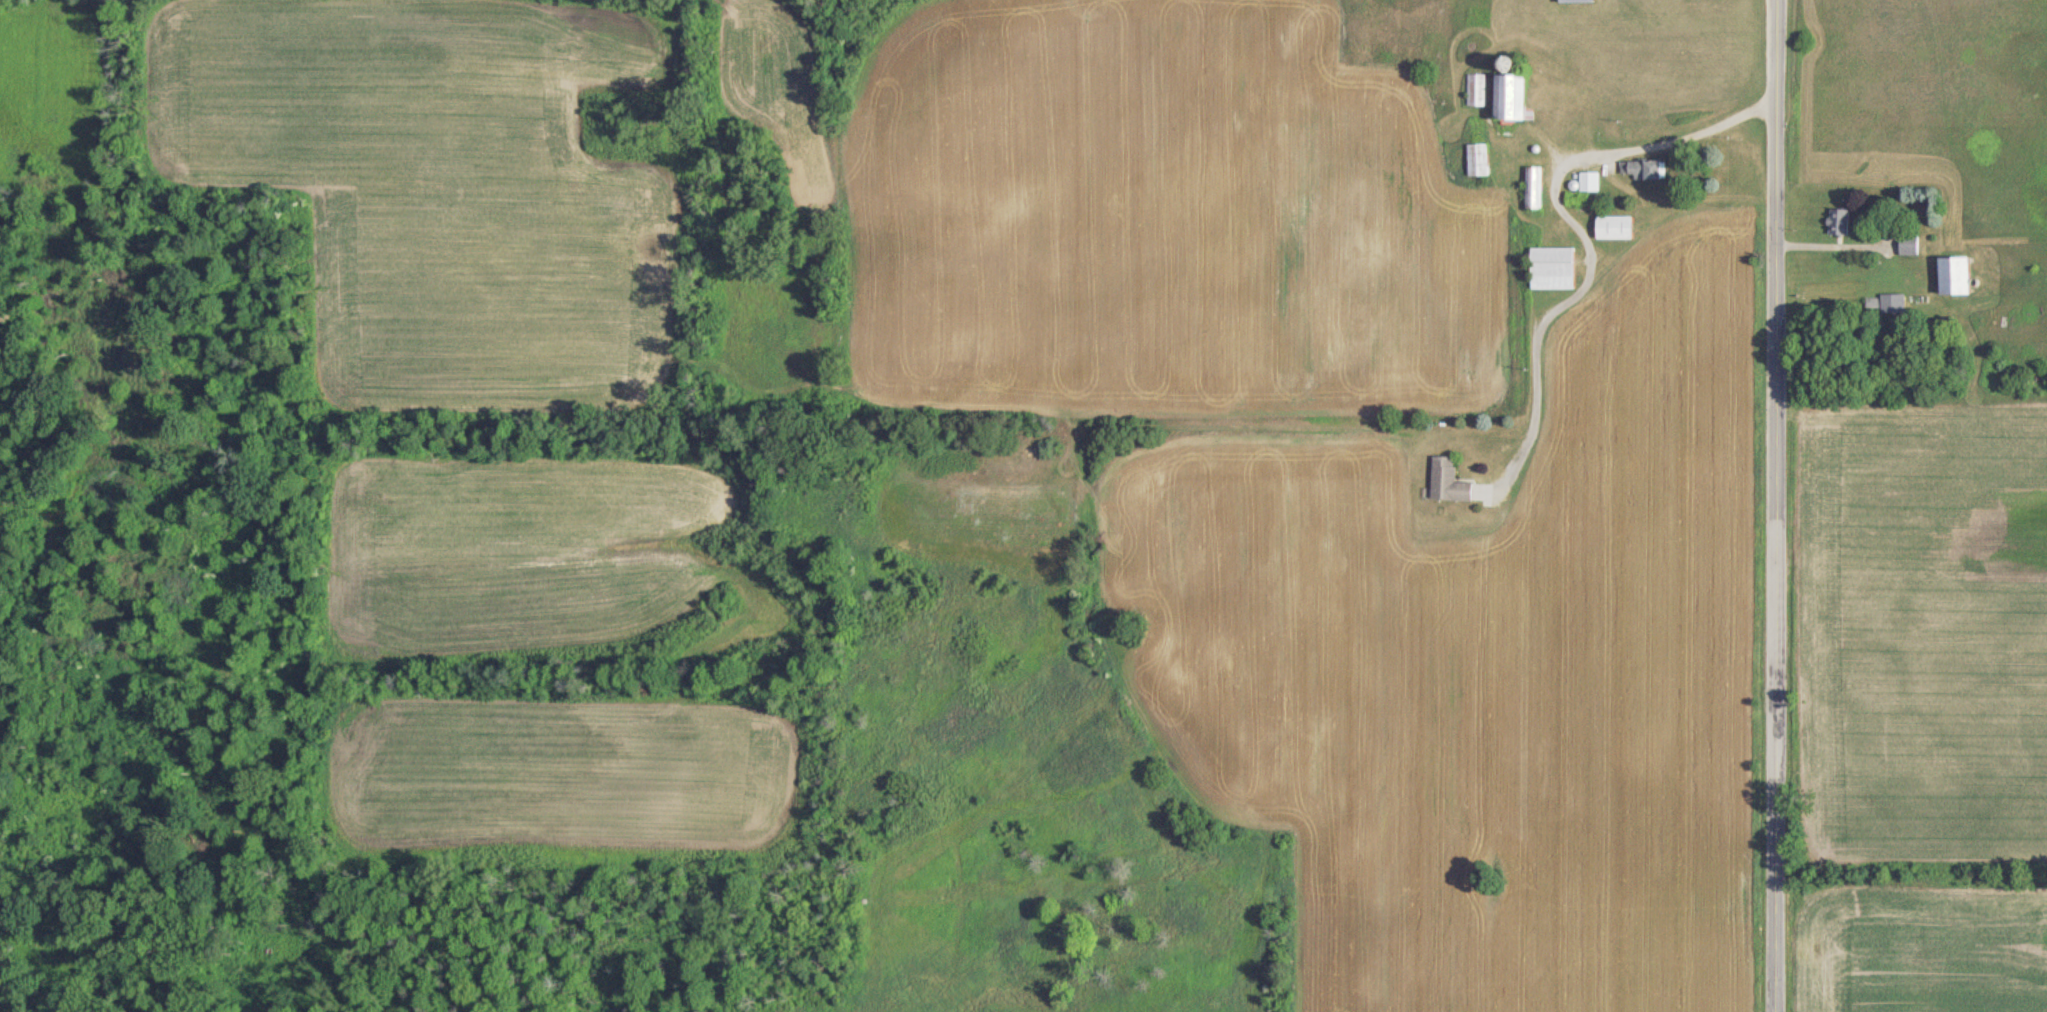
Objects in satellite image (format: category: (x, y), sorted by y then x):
building: (1574, 1)
building: (1477, 89)
building: (1508, 96)
building: (1477, 159)
building: (1642, 168)
building: (1588, 181)
building: (1533, 187)
building: (1838, 221)
road: (1575, 224)
building: (1613, 226)
building: (1908, 244)
building: (1551, 267)
building: (1952, 274)
building: (1447, 482)
road: (1781, 505)

